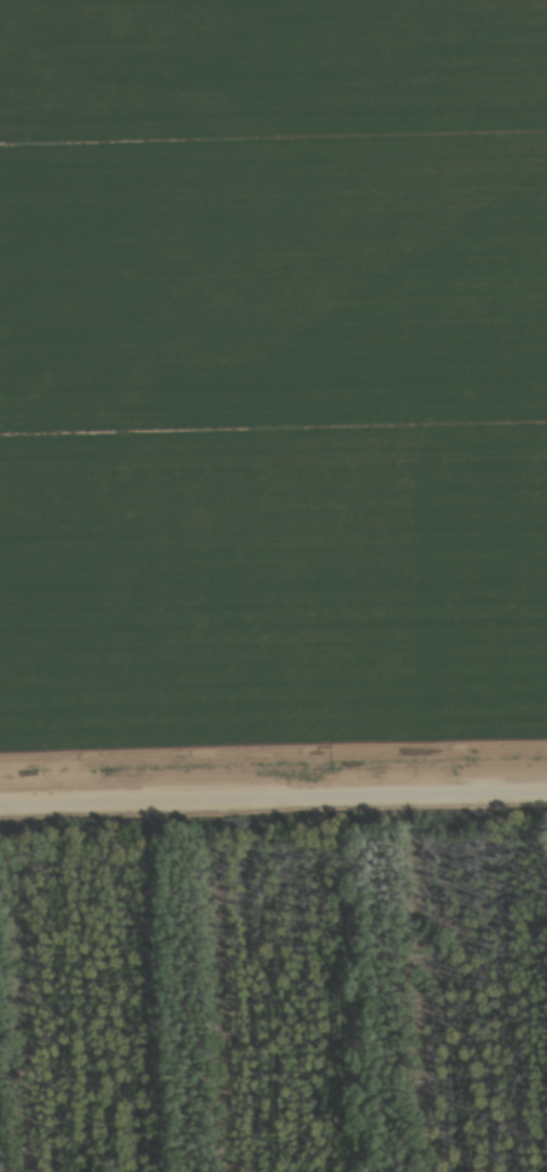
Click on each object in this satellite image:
road: (273, 797)

